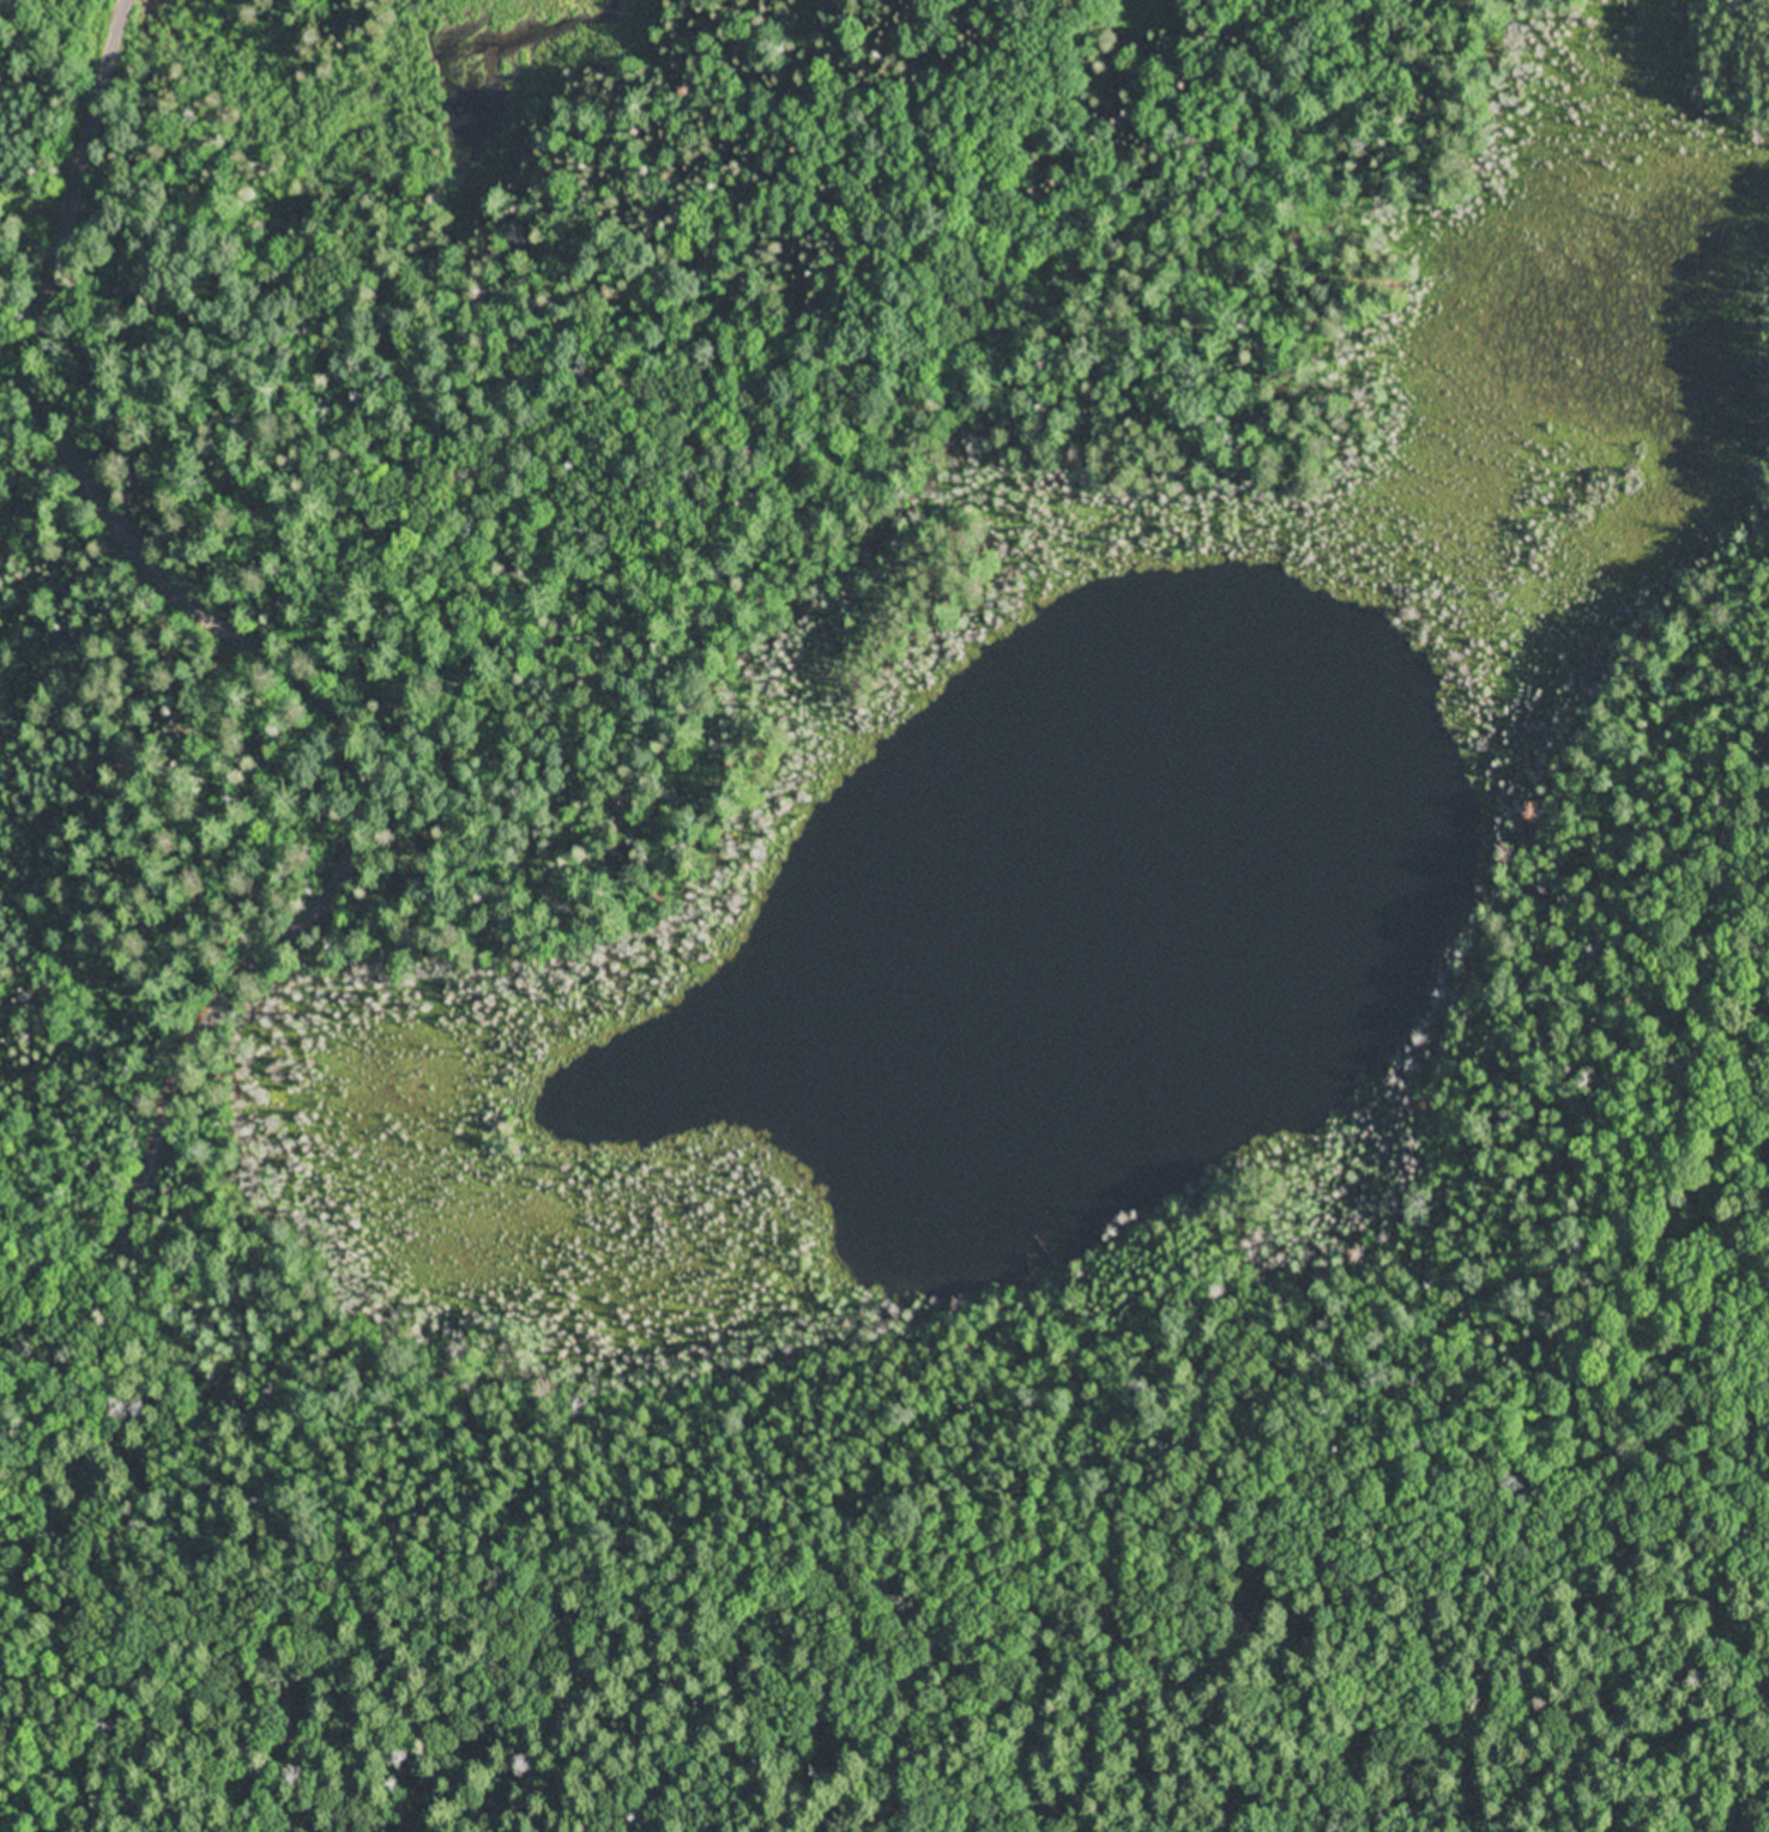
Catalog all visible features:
road: (40, 201)
road: (348, 724)

